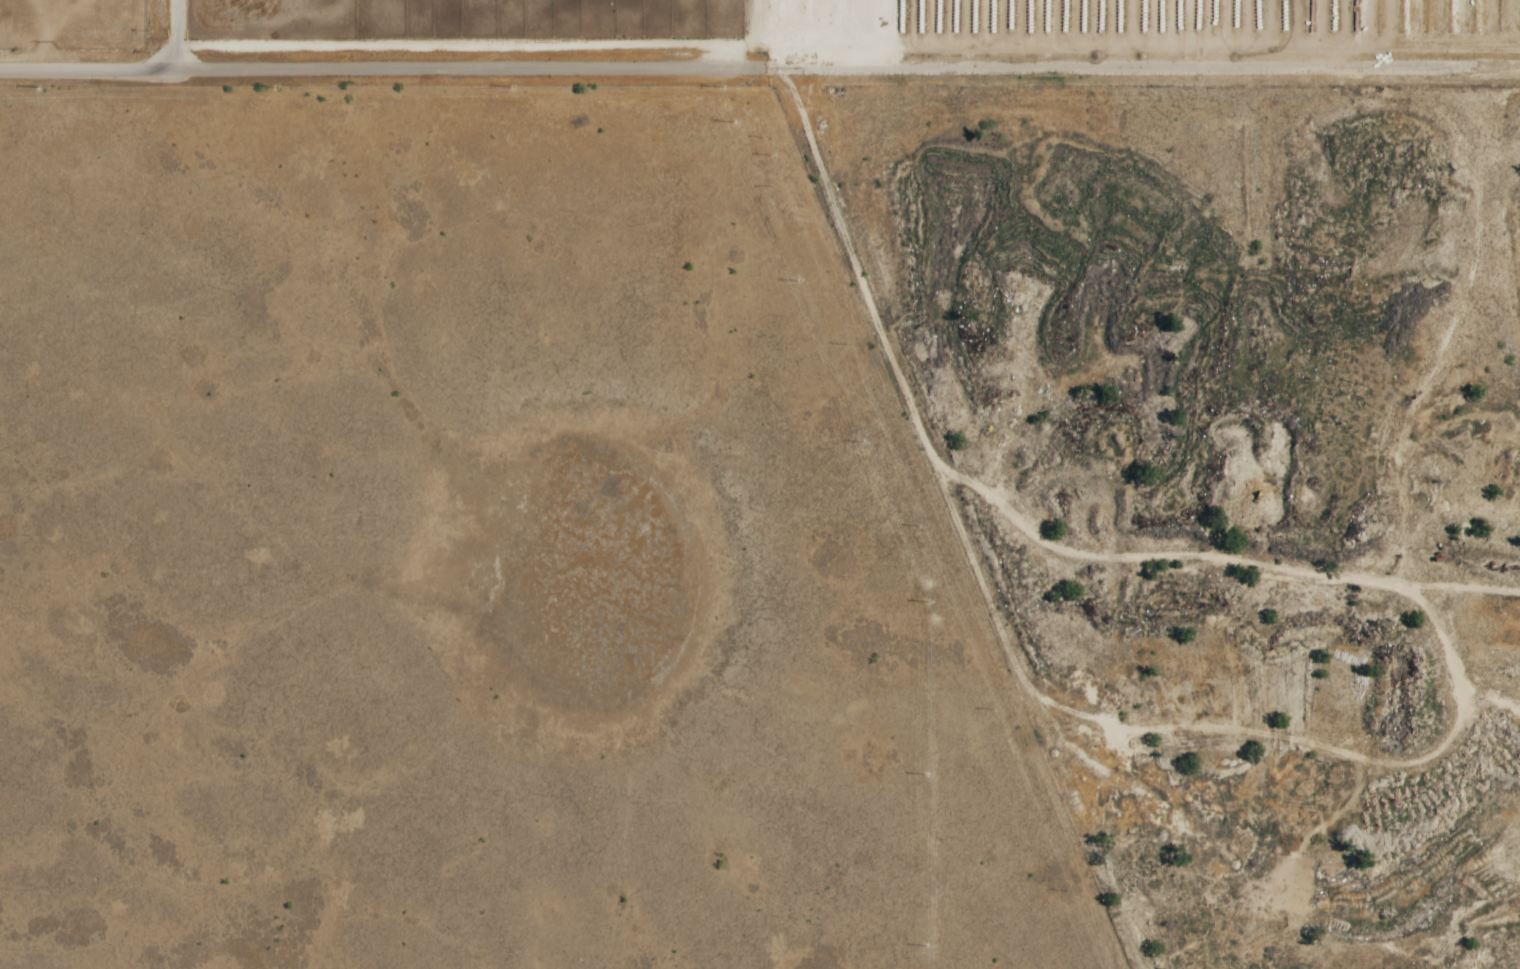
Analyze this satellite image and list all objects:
road: (759, 34)
road: (379, 70)

